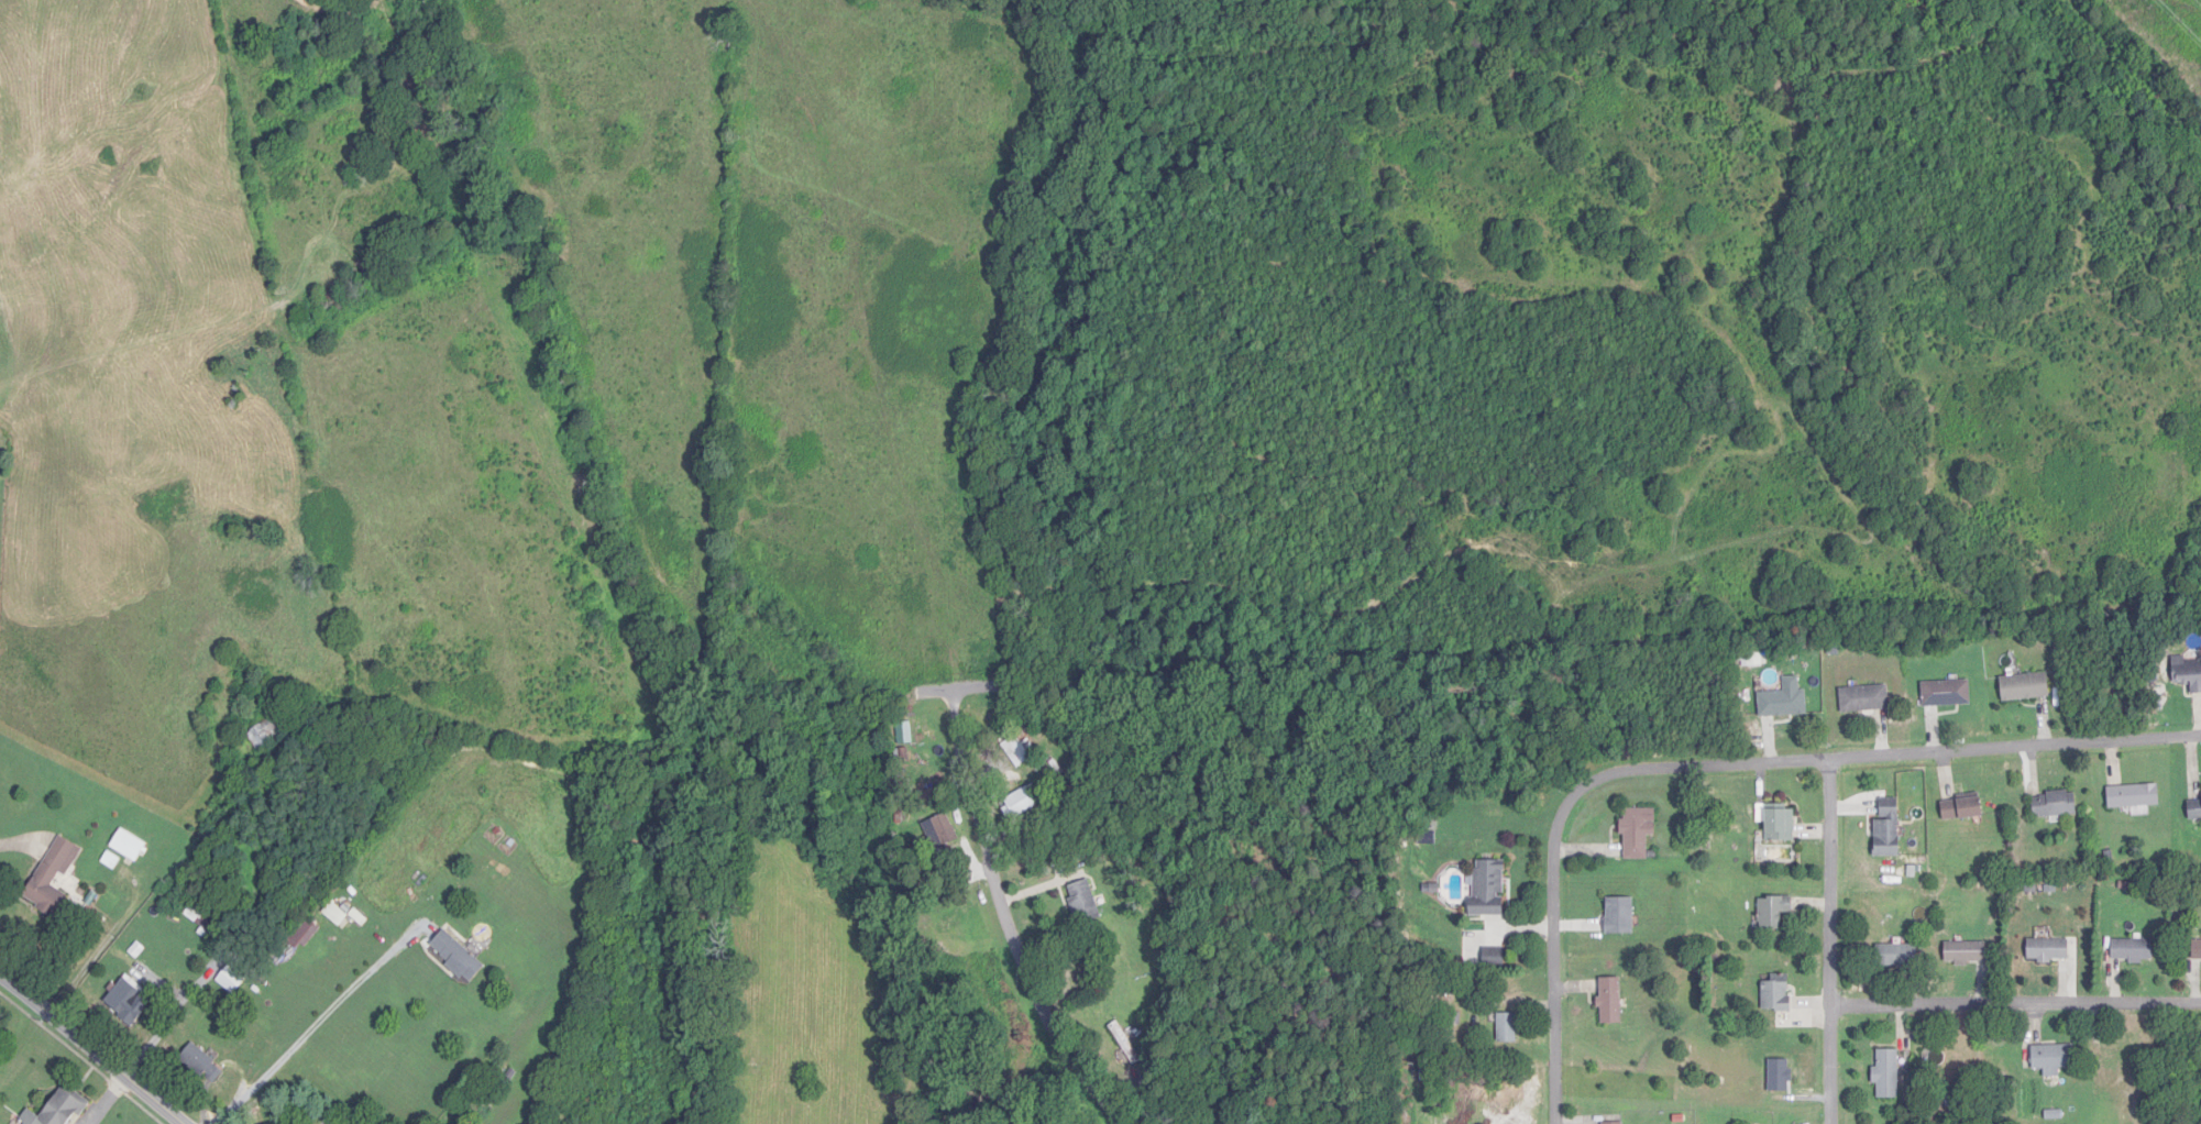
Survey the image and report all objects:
building: (2188, 673)
building: (2025, 687)
building: (1946, 694)
building: (1864, 699)
building: (1783, 704)
building: (265, 735)
building: (1017, 751)
road: (1886, 756)
building: (2134, 797)
building: (1022, 803)
building: (2054, 804)
building: (2194, 807)
building: (1961, 809)
building: (1780, 824)
building: (1886, 828)
building: (940, 833)
building: (1638, 833)
building: (129, 847)
building: (52, 875)
road: (158, 884)
building: (1487, 889)
building: (1083, 902)
building: (1773, 912)
building: (335, 915)
building: (206, 916)
building: (1619, 916)
building: (302, 934)
road: (1830, 940)
building: (2048, 950)
building: (2133, 950)
building: (2197, 951)
road: (1558, 952)
building: (1966, 952)
building: (1896, 956)
building: (456, 957)
building: (1494, 958)
building: (235, 974)
building: (1776, 993)
road: (1048, 996)
building: (129, 1000)
building: (1610, 1001)
road: (2016, 1004)
road: (319, 1022)
building: (1507, 1027)
building: (1125, 1043)
road: (93, 1047)
building: (2053, 1058)
building: (201, 1064)
building: (1886, 1073)
building: (1780, 1076)
building: (59, 1109)
building: (1613, 1123)

